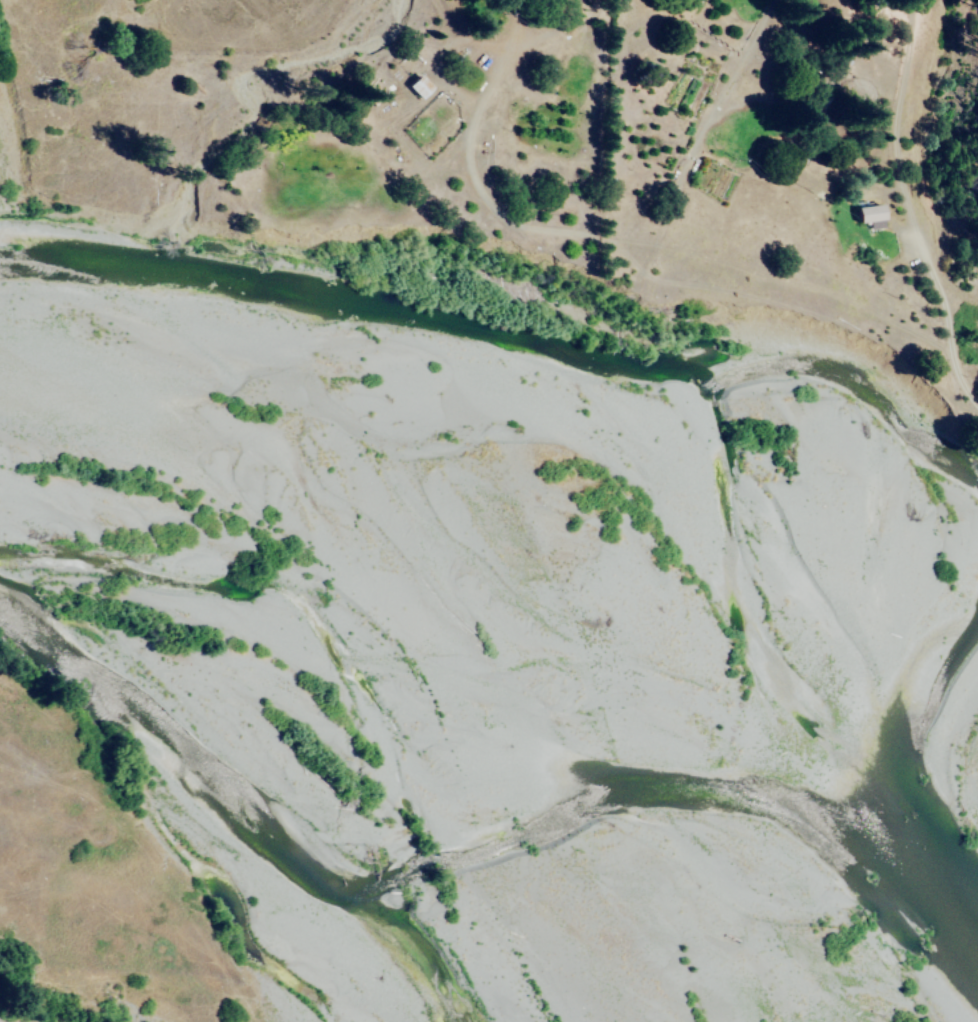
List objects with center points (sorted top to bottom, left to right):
road: (912, 204)
building: (874, 216)

